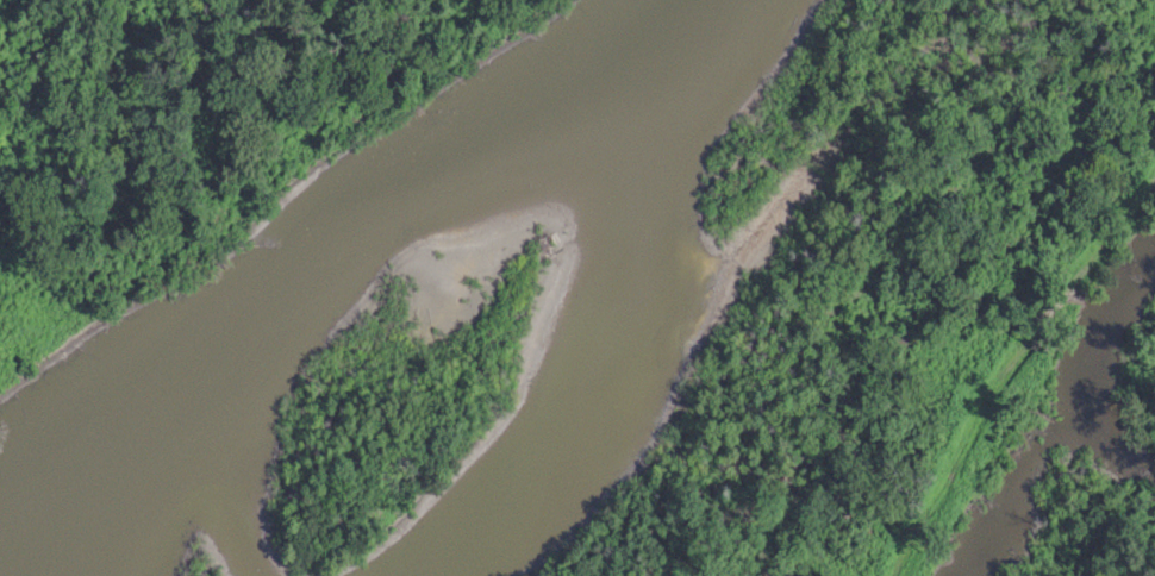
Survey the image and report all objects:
road: (999, 361)

